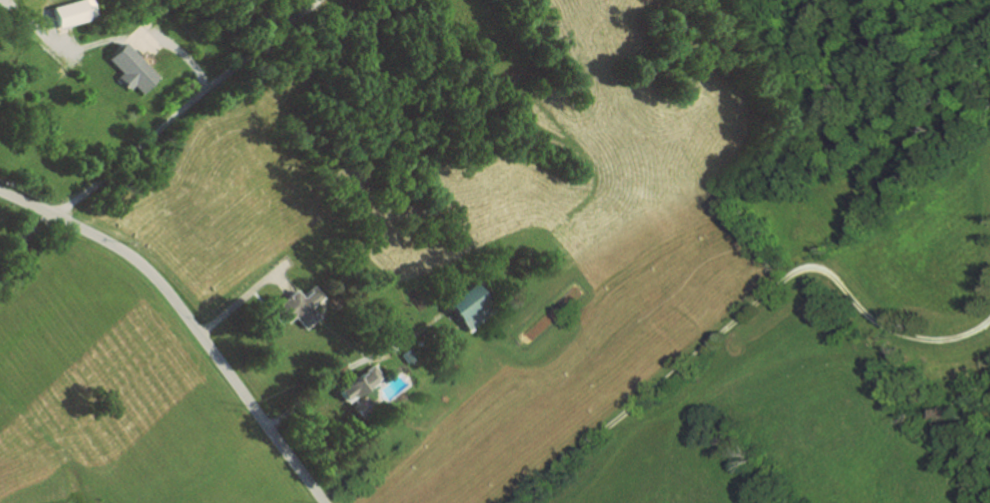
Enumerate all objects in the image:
road: (176, 49)
road: (179, 110)
road: (232, 302)
road: (740, 314)
road: (187, 319)
road: (323, 380)

